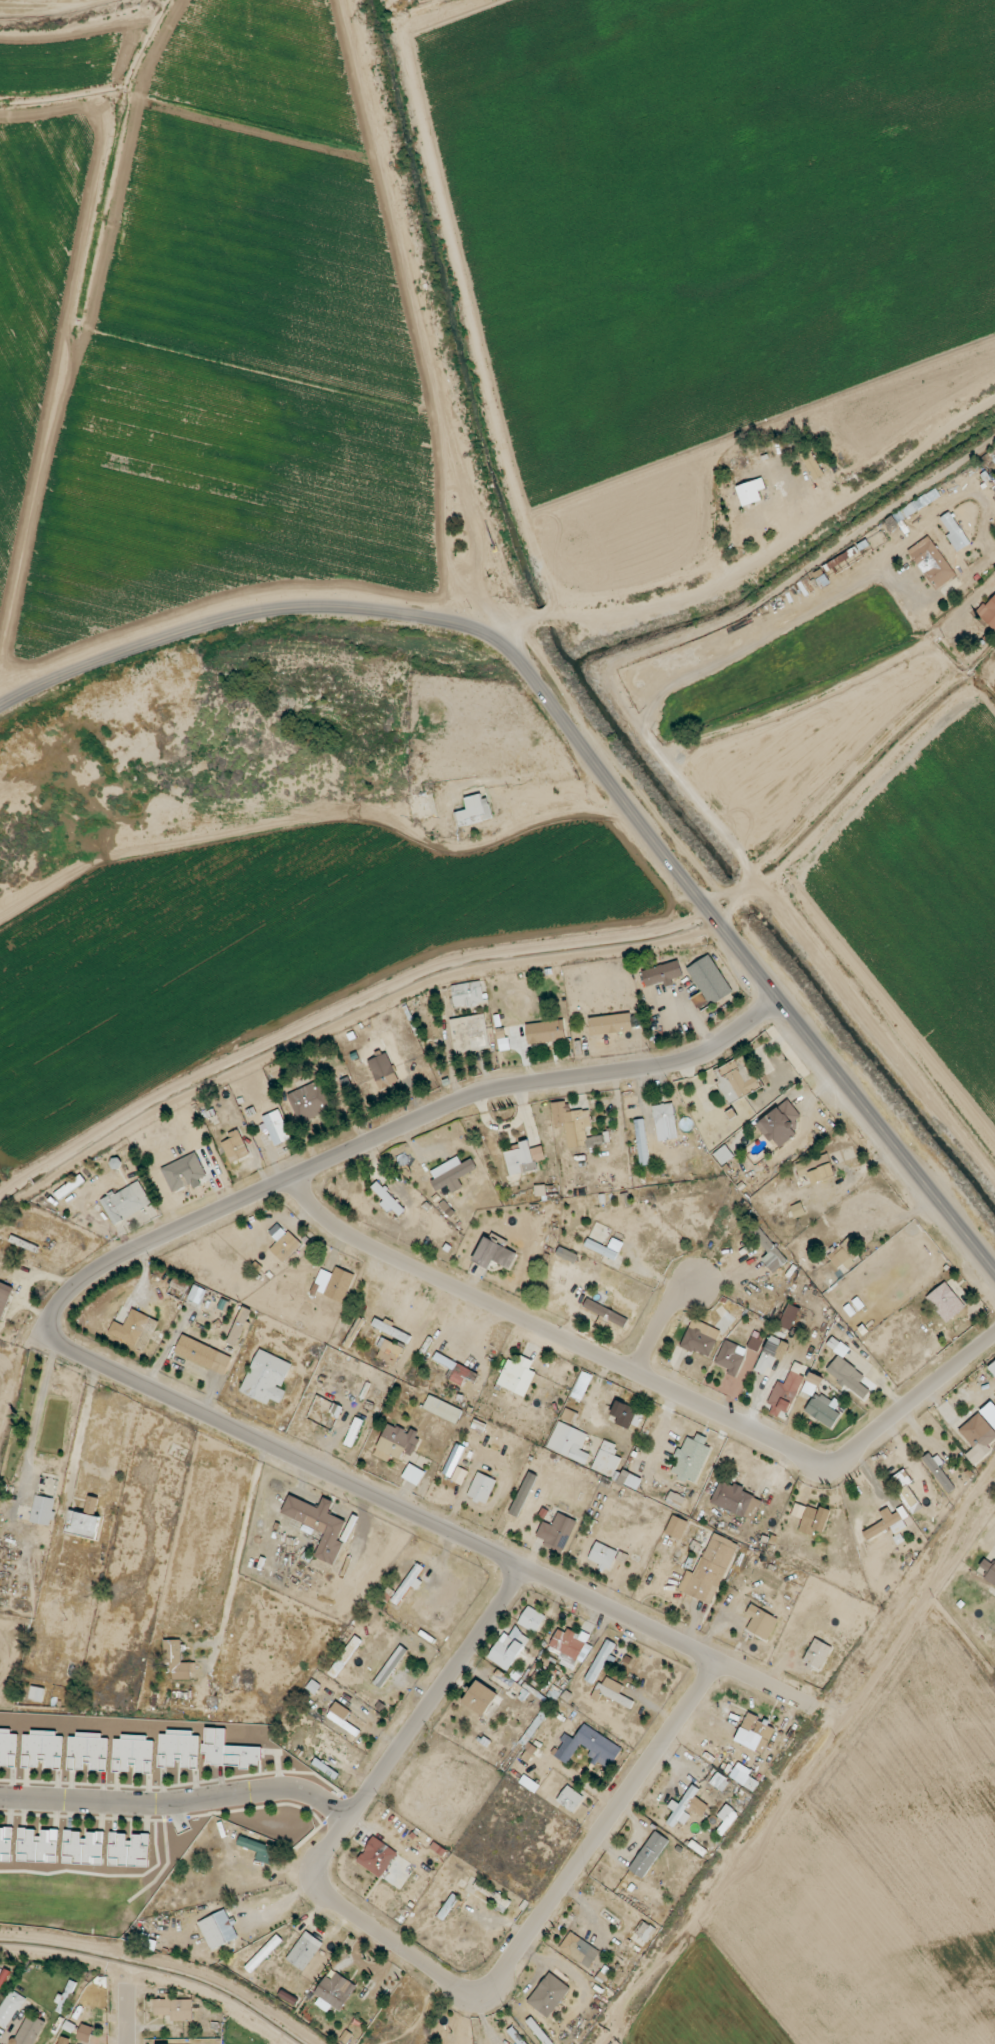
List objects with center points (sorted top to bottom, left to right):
building: (994, 461)
building: (811, 464)
building: (750, 491)
building: (954, 531)
road: (780, 540)
building: (932, 563)
building: (988, 612)
road: (792, 624)
road: (518, 629)
road: (585, 750)
building: (474, 811)
road: (688, 814)
building: (661, 974)
building: (709, 980)
building: (468, 994)
building: (610, 1024)
building: (545, 1032)
building: (469, 1034)
building: (504, 1044)
building: (382, 1070)
building: (735, 1080)
building: (309, 1101)
building: (665, 1122)
building: (571, 1123)
building: (781, 1124)
building: (276, 1127)
road: (398, 1127)
building: (642, 1142)
building: (235, 1146)
building: (723, 1154)
building: (524, 1158)
building: (815, 1170)
building: (184, 1172)
building: (451, 1174)
building: (69, 1187)
building: (540, 1191)
building: (126, 1202)
building: (392, 1203)
building: (798, 1210)
road: (883, 1219)
building: (284, 1245)
building: (605, 1248)
building: (769, 1251)
building: (843, 1252)
building: (494, 1254)
building: (567, 1254)
building: (334, 1284)
building: (198, 1294)
building: (4, 1297)
building: (945, 1302)
building: (605, 1313)
building: (789, 1317)
road: (660, 1325)
building: (239, 1326)
building: (382, 1326)
building: (135, 1329)
building: (700, 1338)
building: (755, 1341)
building: (389, 1352)
building: (203, 1354)
building: (771, 1354)
building: (731, 1357)
building: (992, 1368)
building: (461, 1373)
building: (517, 1376)
building: (848, 1376)
building: (267, 1377)
road: (645, 1379)
building: (812, 1383)
building: (581, 1386)
building: (786, 1391)
building: (443, 1409)
building: (822, 1409)
road: (36, 1412)
building: (625, 1414)
building: (569, 1416)
road: (81, 1425)
building: (353, 1432)
building: (978, 1438)
building: (396, 1442)
building: (569, 1442)
building: (691, 1458)
building: (606, 1459)
building: (454, 1460)
building: (939, 1473)
building: (413, 1474)
building: (459, 1475)
building: (629, 1480)
building: (481, 1488)
building: (904, 1488)
building: (736, 1500)
building: (92, 1504)
building: (43, 1510)
building: (798, 1510)
building: (815, 1520)
building: (889, 1522)
road: (432, 1523)
building: (83, 1524)
building: (318, 1525)
building: (676, 1527)
building: (557, 1531)
road: (984, 1533)
building: (603, 1556)
building: (709, 1570)
building: (989, 1571)
building: (409, 1583)
building: (531, 1619)
building: (761, 1622)
building: (571, 1647)
building: (508, 1648)
building: (817, 1654)
building: (345, 1656)
building: (601, 1659)
building: (177, 1660)
building: (612, 1692)
building: (37, 1693)
building: (480, 1698)
building: (340, 1715)
building: (754, 1734)
building: (8, 1747)
building: (589, 1747)
building: (43, 1748)
building: (179, 1748)
building: (87, 1751)
building: (228, 1751)
building: (133, 1752)
building: (528, 1752)
building: (744, 1779)
building: (719, 1782)
building: (570, 1799)
building: (688, 1807)
building: (727, 1816)
building: (38, 1846)
building: (83, 1848)
building: (129, 1849)
building: (259, 1849)
building: (648, 1854)
building: (377, 1857)
building: (218, 1929)
building: (644, 1931)
building: (579, 1949)
building: (304, 1951)
building: (263, 1953)
road: (410, 1953)
building: (335, 1990)
building: (548, 1995)
building: (9, 2008)
building: (174, 2009)
road: (126, 2016)
building: (29, 2030)
building: (539, 2032)
building: (89, 2034)
building: (62, 2042)

